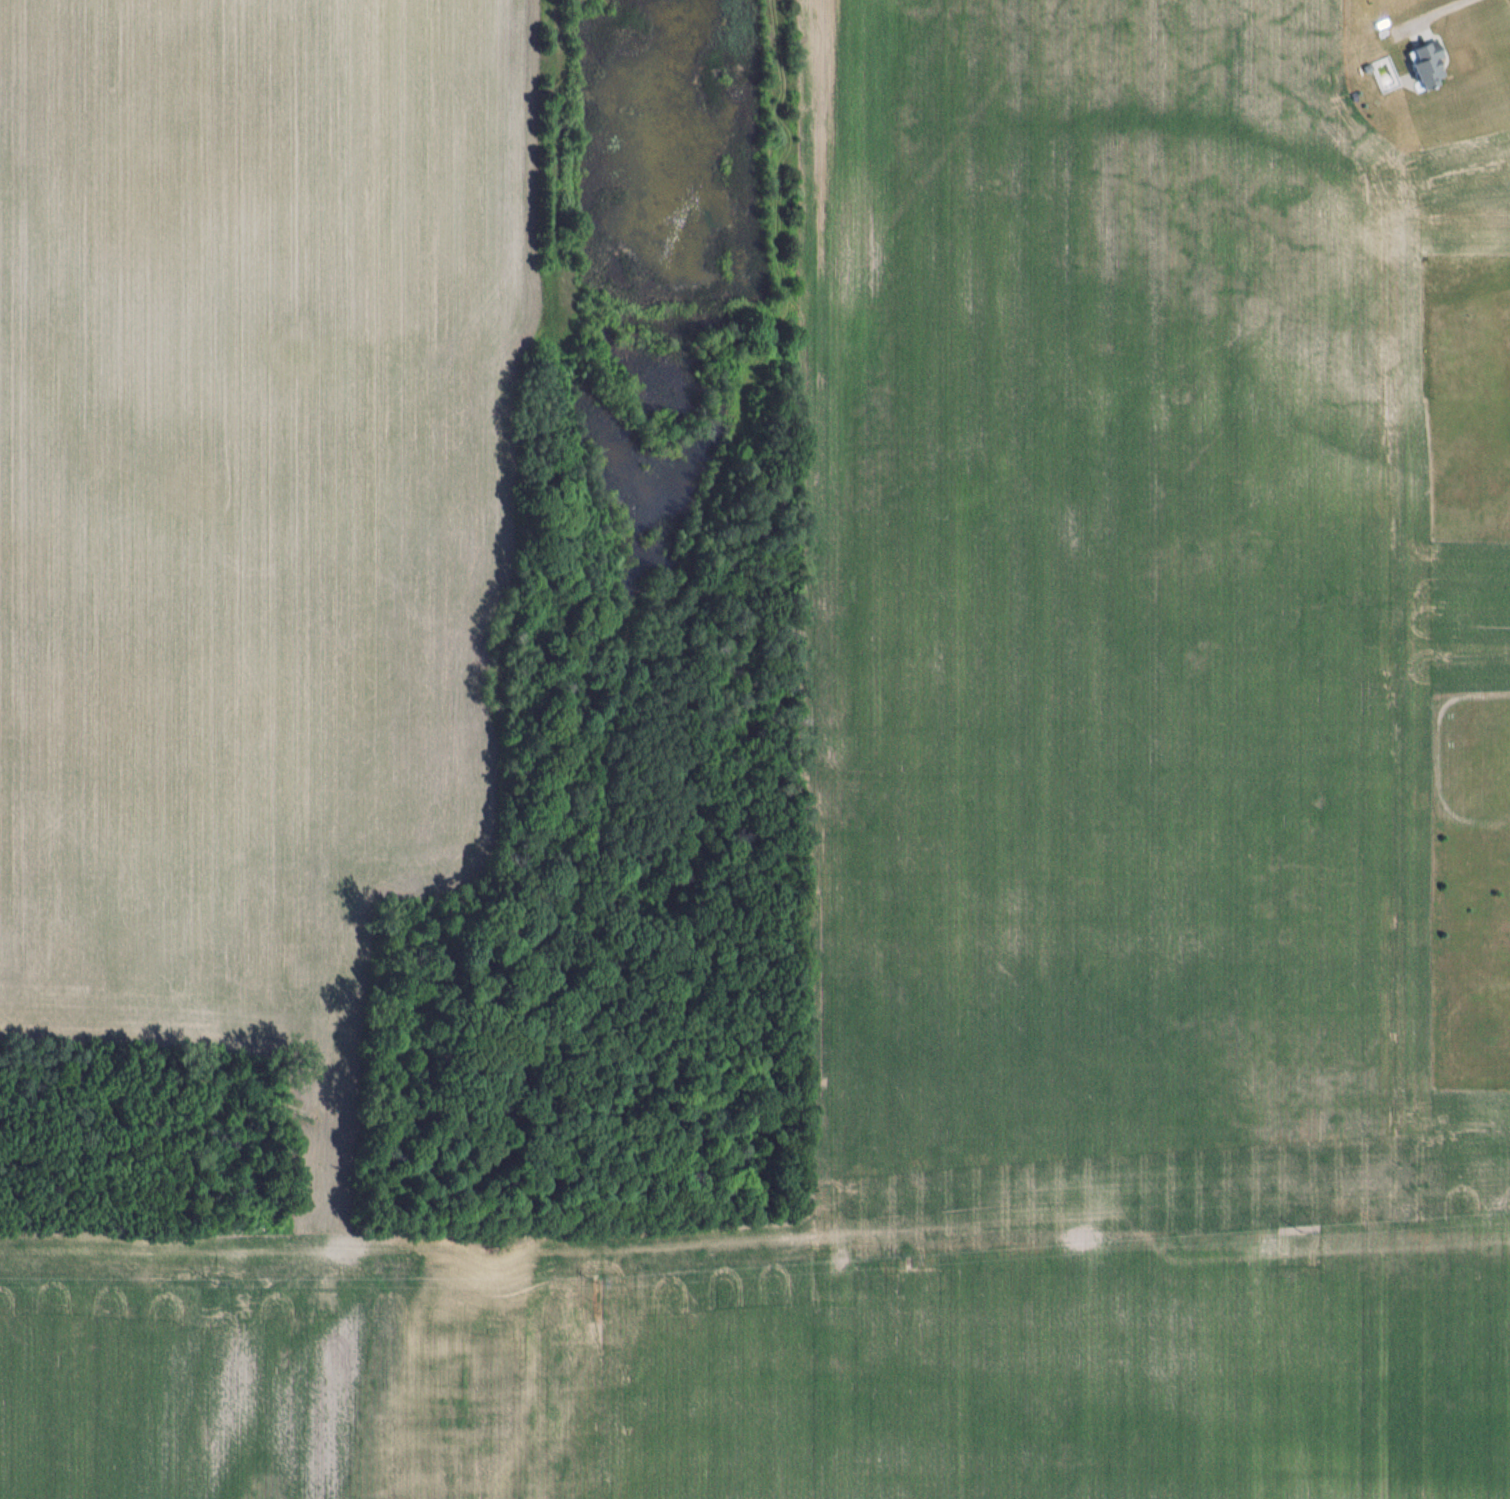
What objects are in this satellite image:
road: (1442, 13)
building: (1427, 64)

